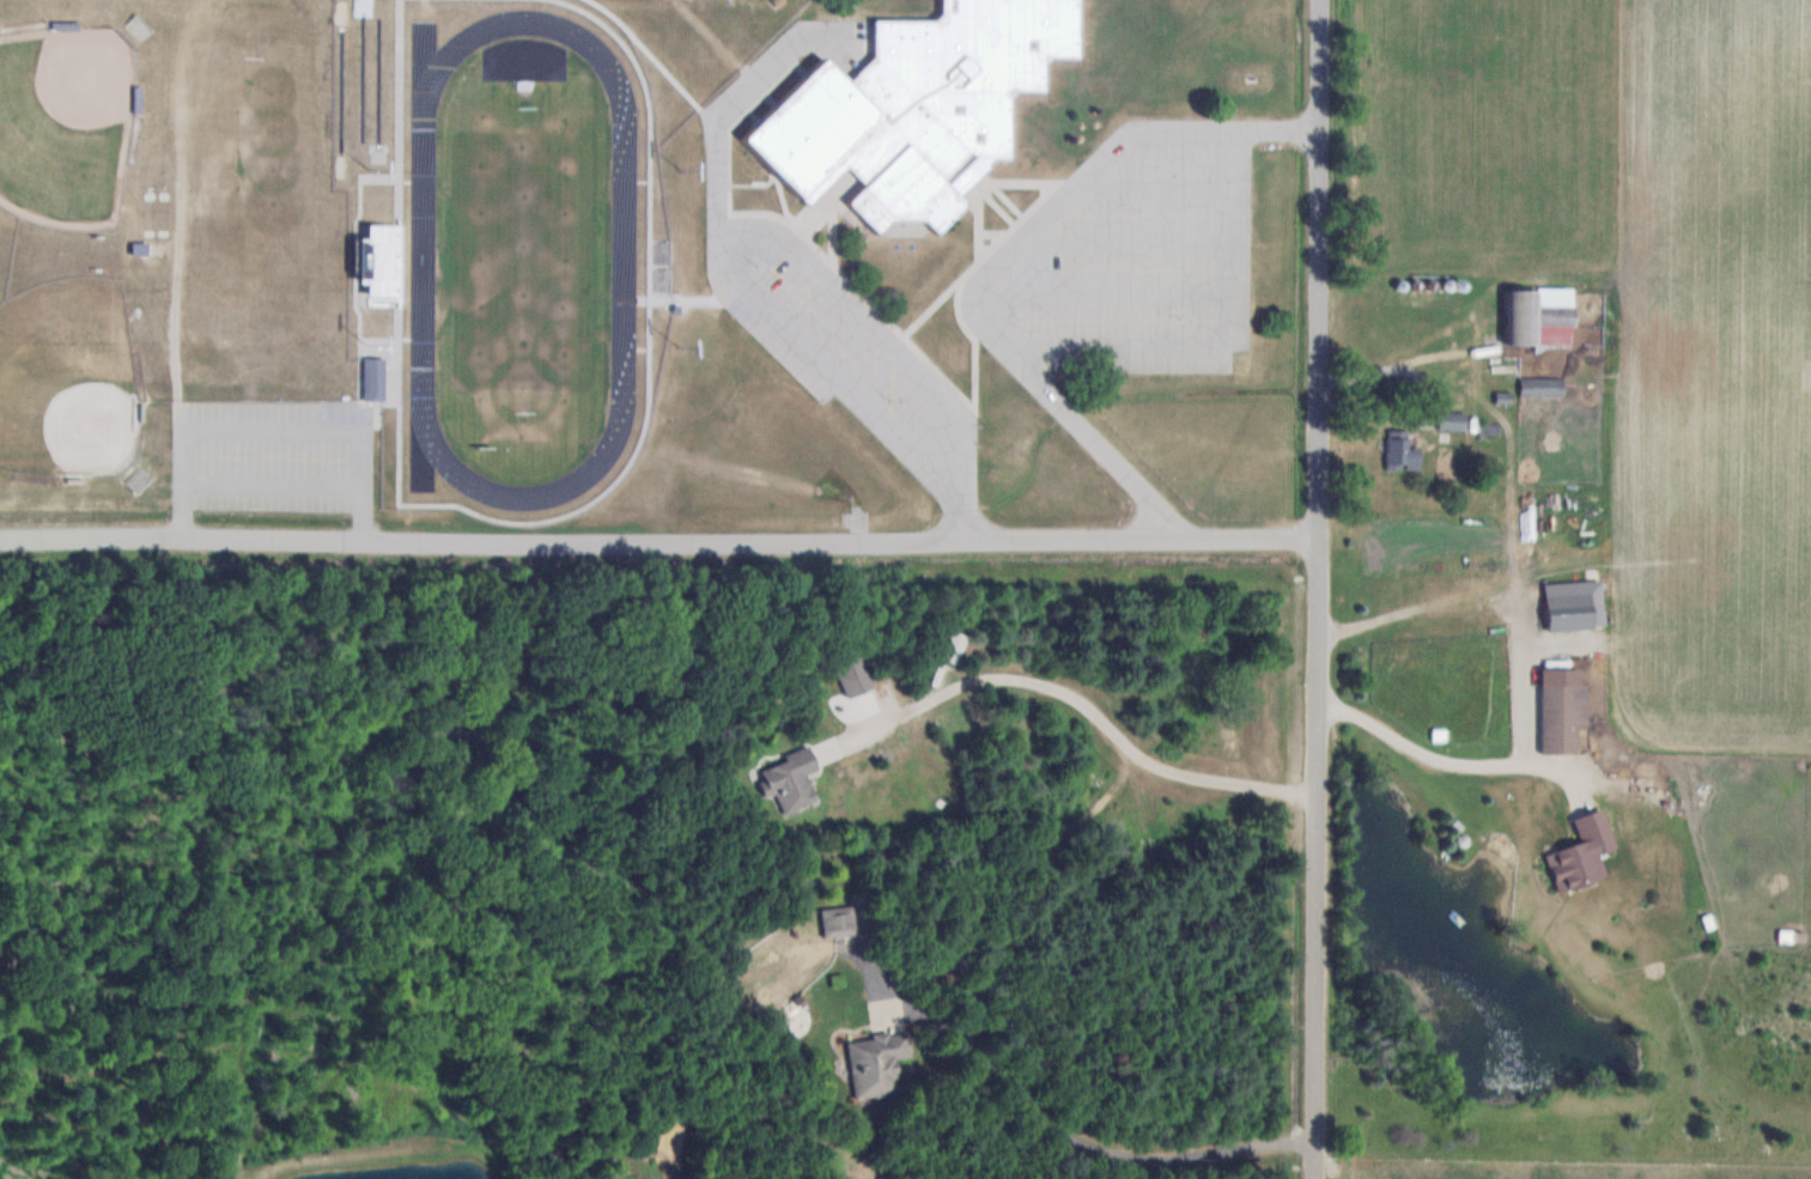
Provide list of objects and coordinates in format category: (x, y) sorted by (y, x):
building: (138, 29)
building: (913, 115)
building: (383, 263)
road: (982, 314)
building: (1538, 322)
road: (822, 366)
building: (373, 379)
building: (1543, 388)
building: (1453, 421)
building: (1403, 451)
building: (139, 480)
road: (487, 537)
road: (1319, 589)
building: (1575, 606)
road: (1415, 616)
building: (855, 677)
building: (1398, 688)
road: (1083, 705)
building: (1564, 718)
building: (791, 780)
building: (1633, 815)
building: (1582, 855)
building: (839, 919)
building: (877, 1065)
road: (1081, 1137)

